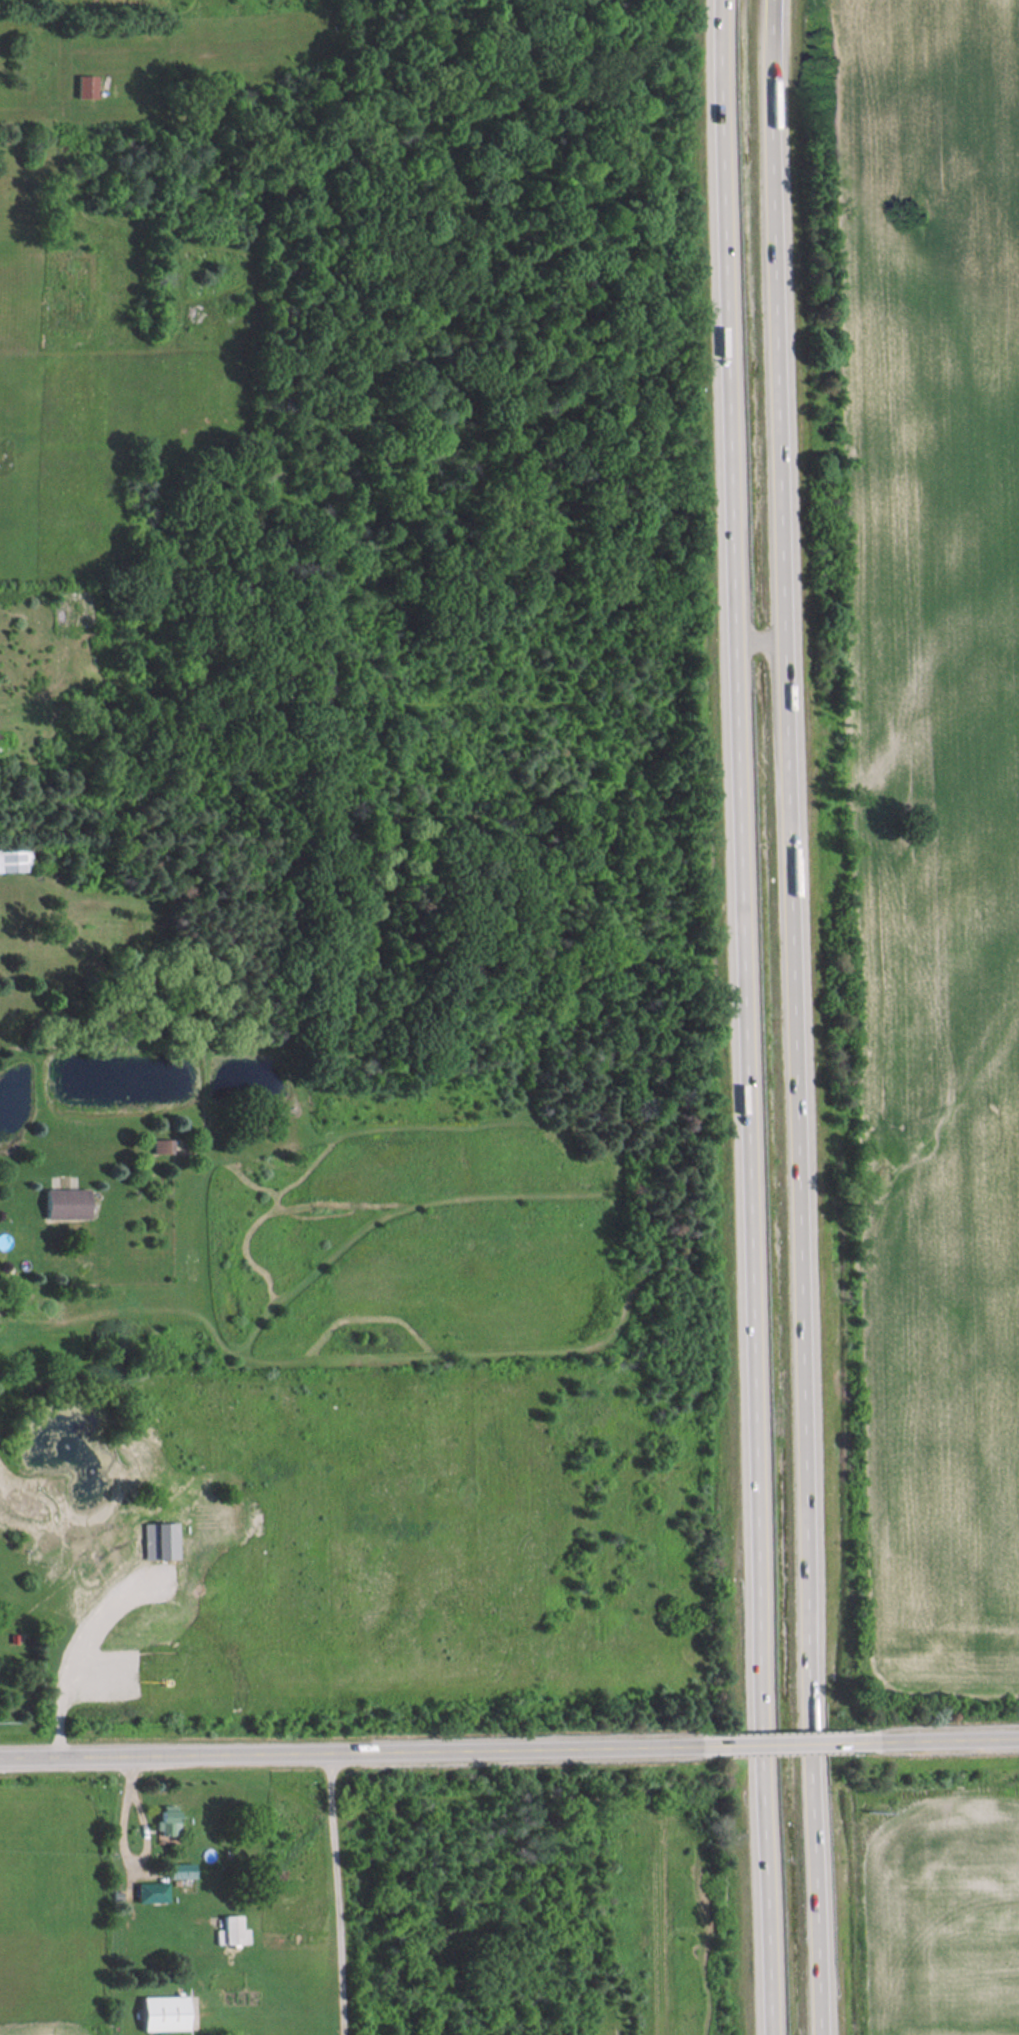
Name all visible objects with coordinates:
building: (85, 86)
road: (773, 642)
building: (15, 857)
road: (757, 1017)
road: (808, 1017)
building: (162, 1146)
building: (65, 1203)
road: (74, 1649)
road: (950, 1740)
road: (791, 1744)
road: (350, 1752)
building: (167, 1820)
road: (151, 1847)
building: (181, 1870)
building: (150, 1892)
road: (343, 1893)
building: (231, 1929)
building: (162, 2013)

